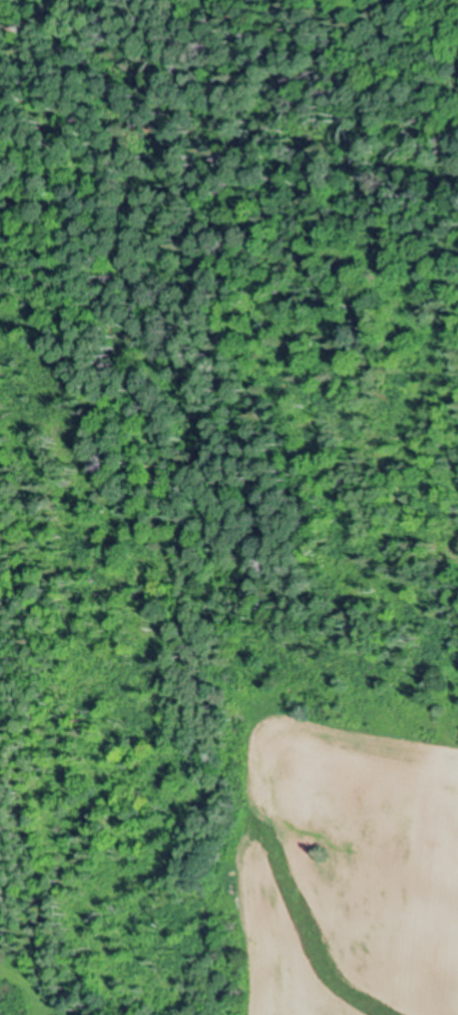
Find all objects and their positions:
crop: (344, 874)

